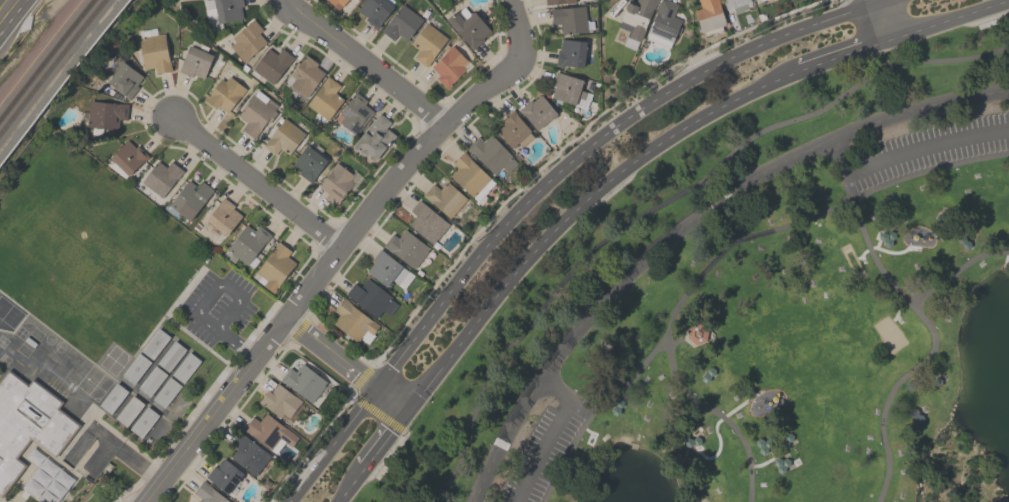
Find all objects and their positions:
building: (450, 0)
building: (758, 0)
building: (453, 1)
building: (557, 1)
building: (336, 3)
building: (736, 5)
building: (375, 10)
building: (221, 11)
road: (11, 15)
building: (709, 17)
building: (570, 19)
building: (634, 20)
road: (881, 20)
building: (401, 23)
building: (663, 23)
building: (468, 27)
building: (247, 40)
building: (427, 43)
railway: (39, 50)
building: (153, 52)
building: (570, 52)
railway: (45, 57)
building: (195, 59)
road: (365, 61)
building: (271, 64)
railway: (51, 65)
building: (449, 66)
building: (304, 76)
building: (124, 79)
building: (568, 90)
building: (224, 93)
building: (325, 98)
building: (537, 111)
building: (257, 112)
building: (354, 113)
building: (105, 114)
building: (512, 130)
building: (282, 137)
building: (374, 138)
road: (664, 143)
road: (598, 144)
building: (491, 153)
road: (907, 155)
building: (126, 159)
building: (308, 162)
building: (160, 177)
building: (470, 177)
road: (258, 180)
building: (335, 183)
building: (444, 197)
building: (190, 199)
road: (662, 203)
building: (223, 216)
building: (426, 222)
road: (686, 226)
road: (346, 235)
building: (247, 244)
building: (406, 247)
road: (721, 256)
building: (273, 267)
building: (385, 268)
road: (958, 275)
road: (220, 284)
building: (371, 297)
park: (762, 312)
building: (353, 322)
building: (697, 335)
building: (154, 343)
road: (236, 343)
road: (931, 348)
road: (330, 354)
building: (170, 355)
building: (185, 366)
building: (135, 368)
building: (151, 380)
building: (303, 381)
building: (166, 391)
building: (112, 398)
road: (392, 401)
building: (281, 403)
road: (741, 406)
building: (128, 411)
road: (715, 414)
building: (917, 415)
building: (143, 420)
building: (27, 422)
building: (269, 432)
road: (98, 434)
road: (551, 436)
road: (335, 446)
building: (247, 454)
road: (99, 457)
road: (374, 457)
road: (135, 461)
building: (223, 475)
building: (47, 480)
road: (152, 491)
building: (208, 493)

